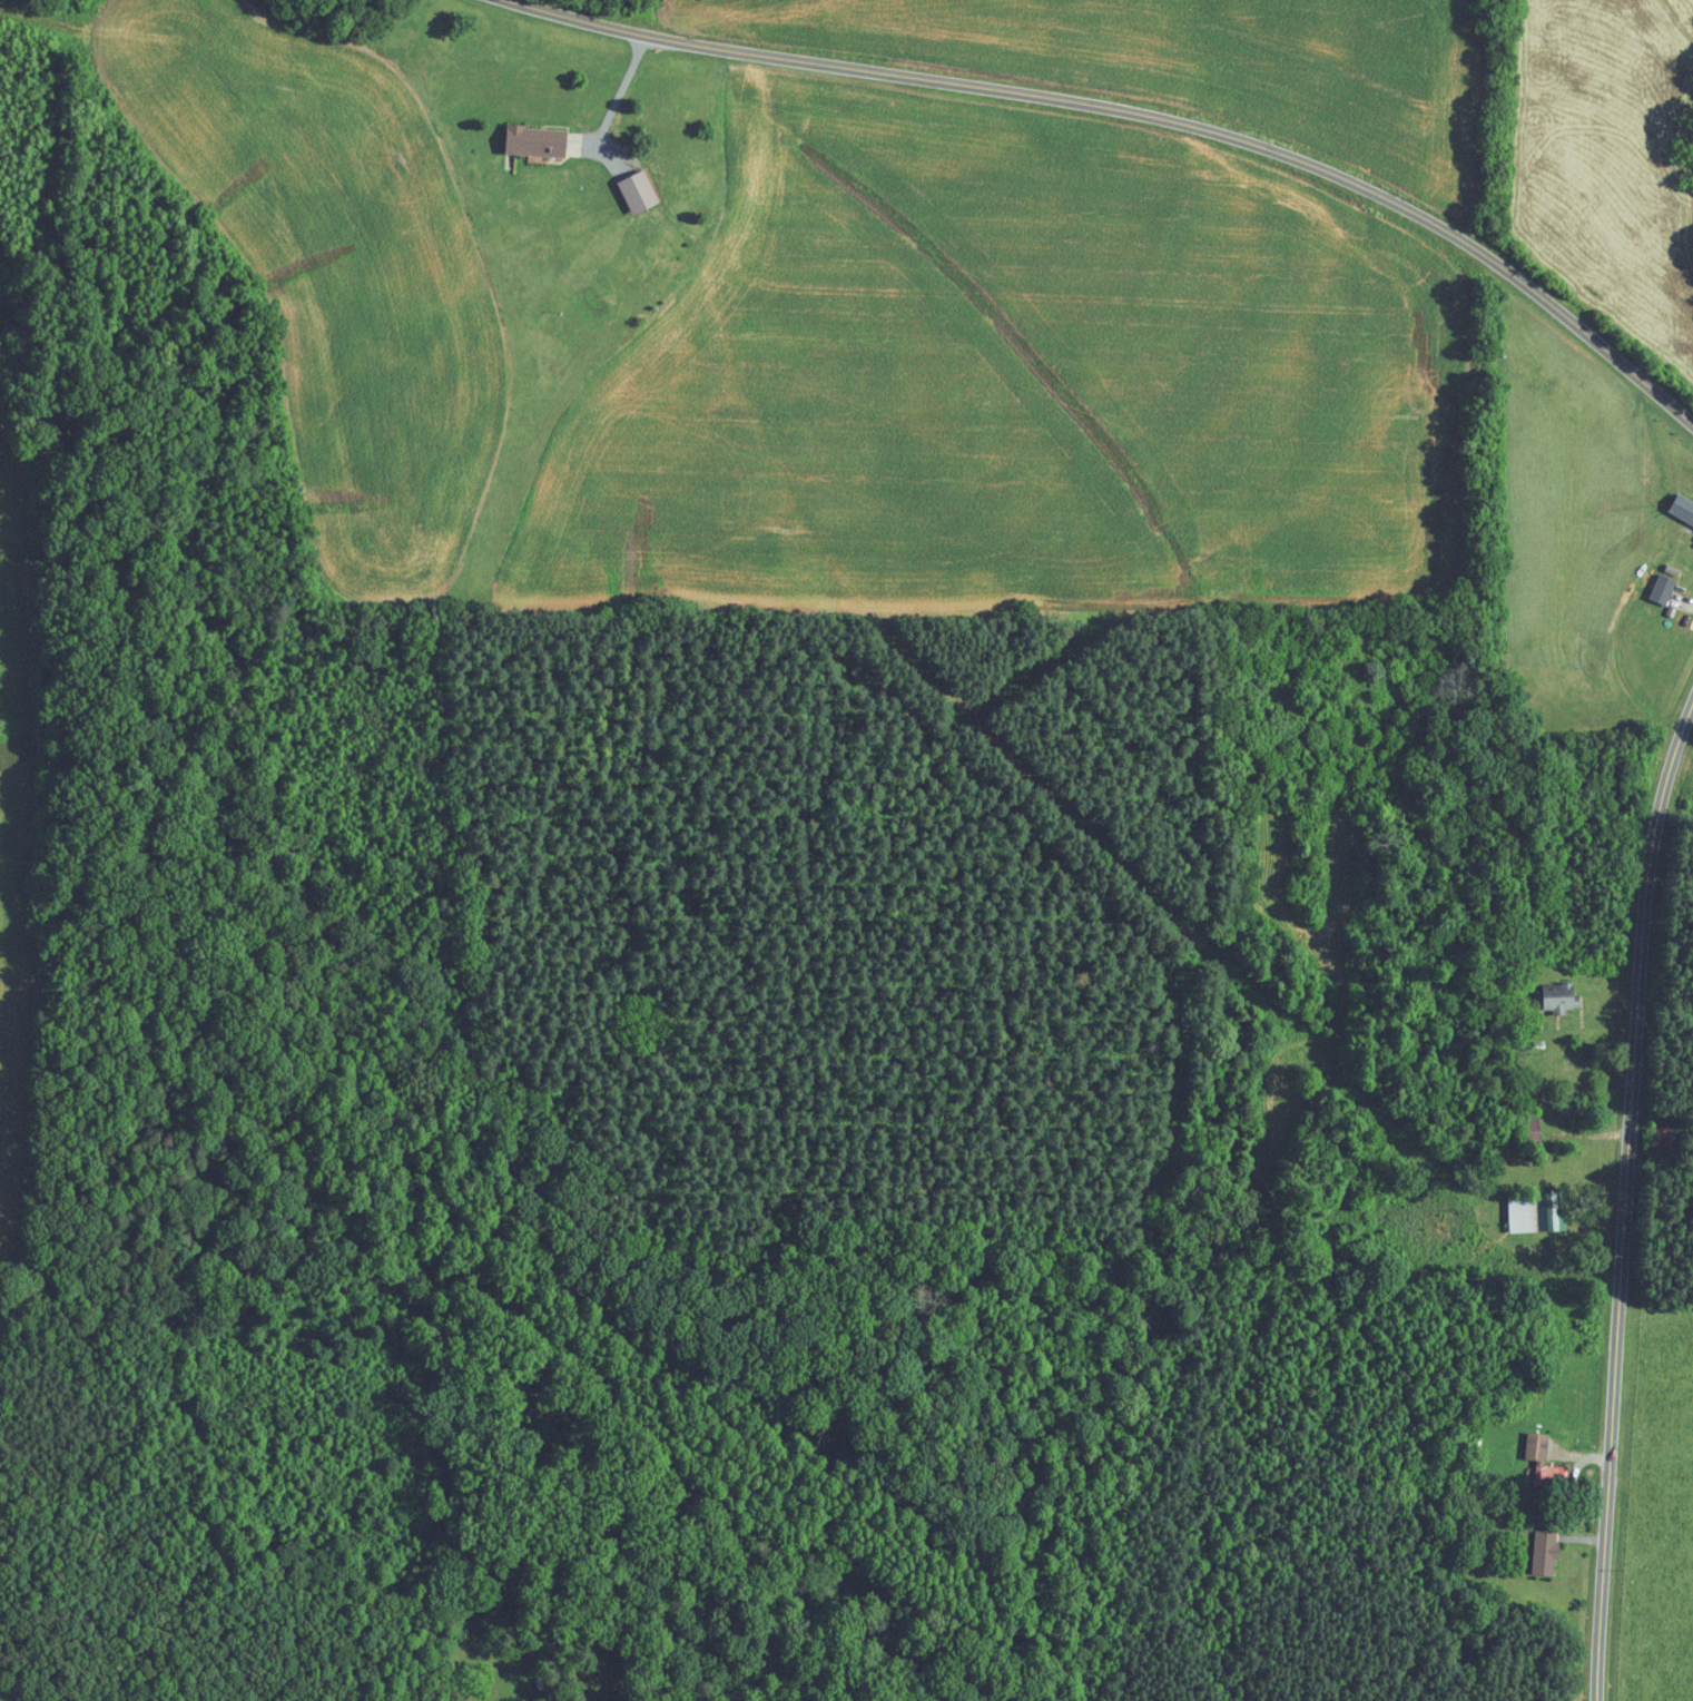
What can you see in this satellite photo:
road: (621, 89)
road: (1143, 114)
building: (534, 139)
building: (637, 190)
road: (916, 430)
building: (1682, 507)
building: (1662, 588)
building: (1558, 996)
road: (1623, 1190)
building: (1544, 1463)
building: (1546, 1554)

